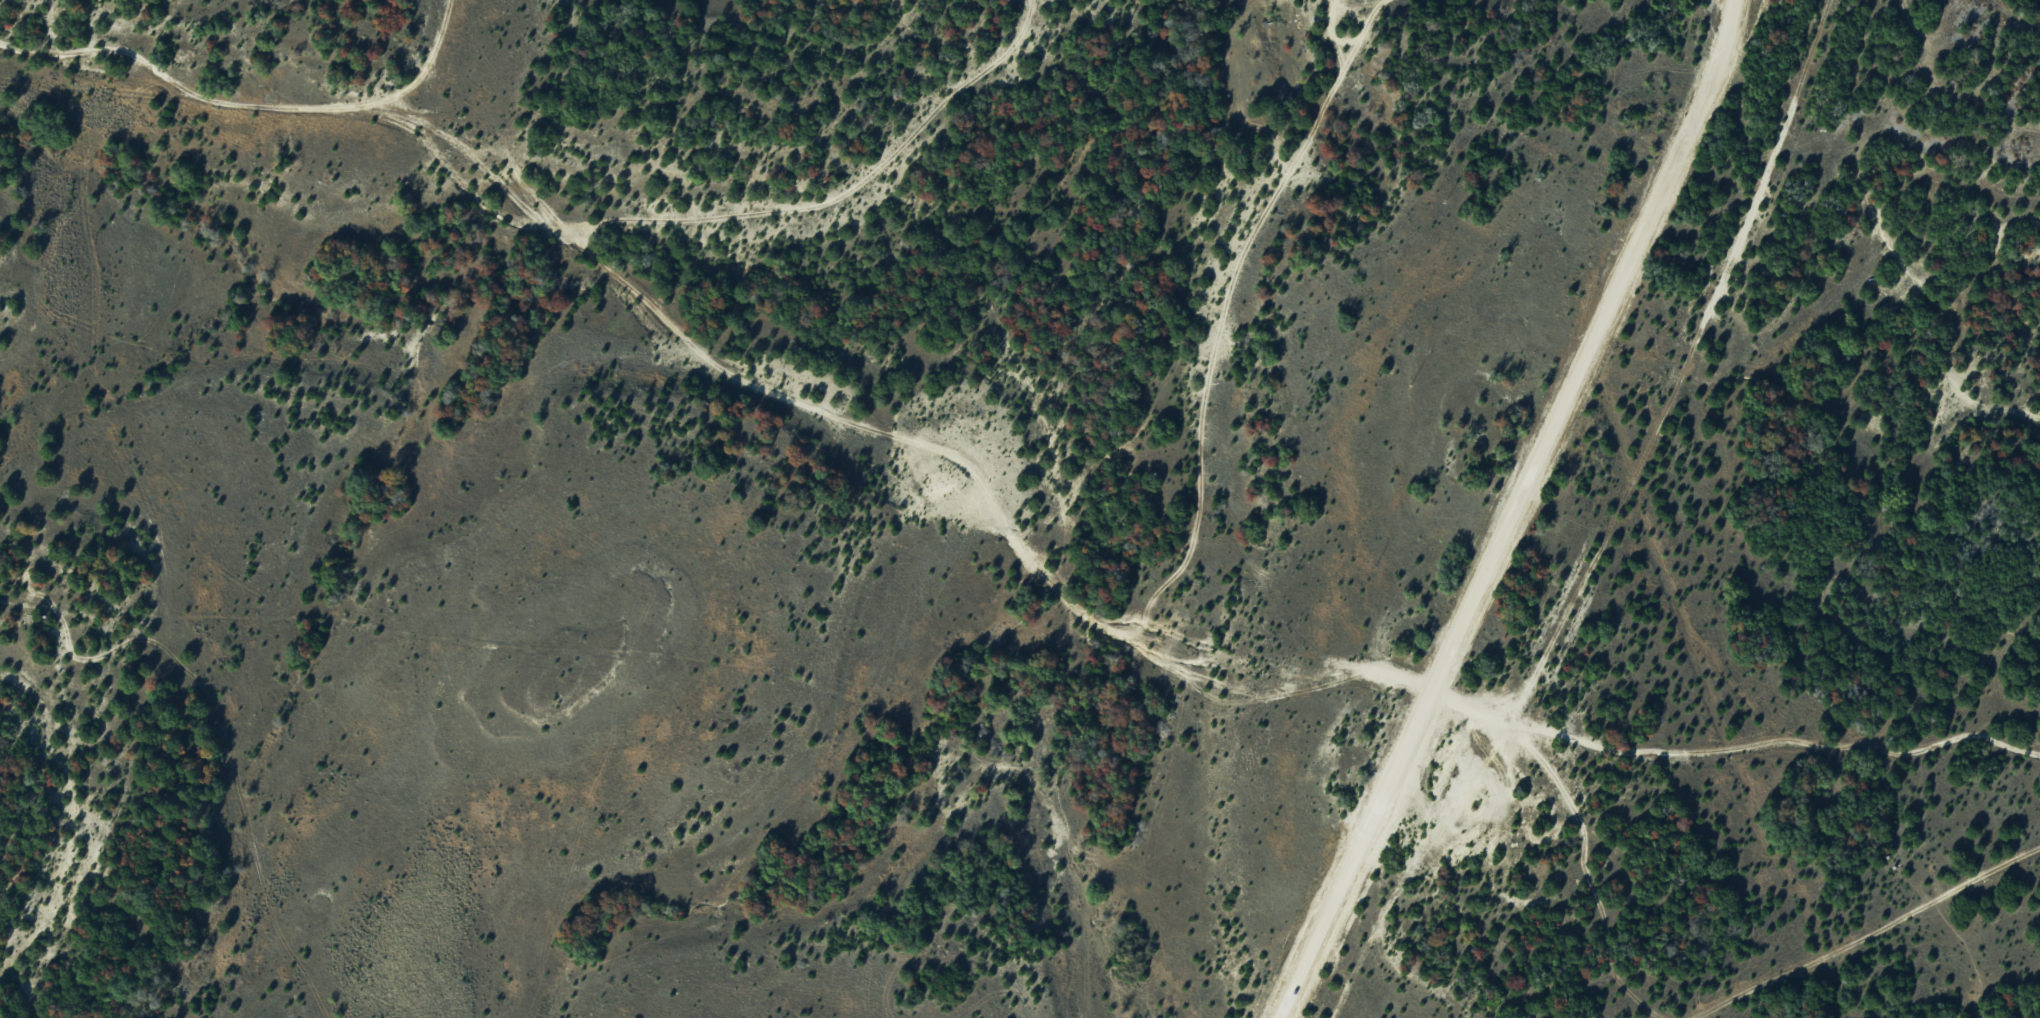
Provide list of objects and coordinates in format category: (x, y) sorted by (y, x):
road: (1514, 512)

